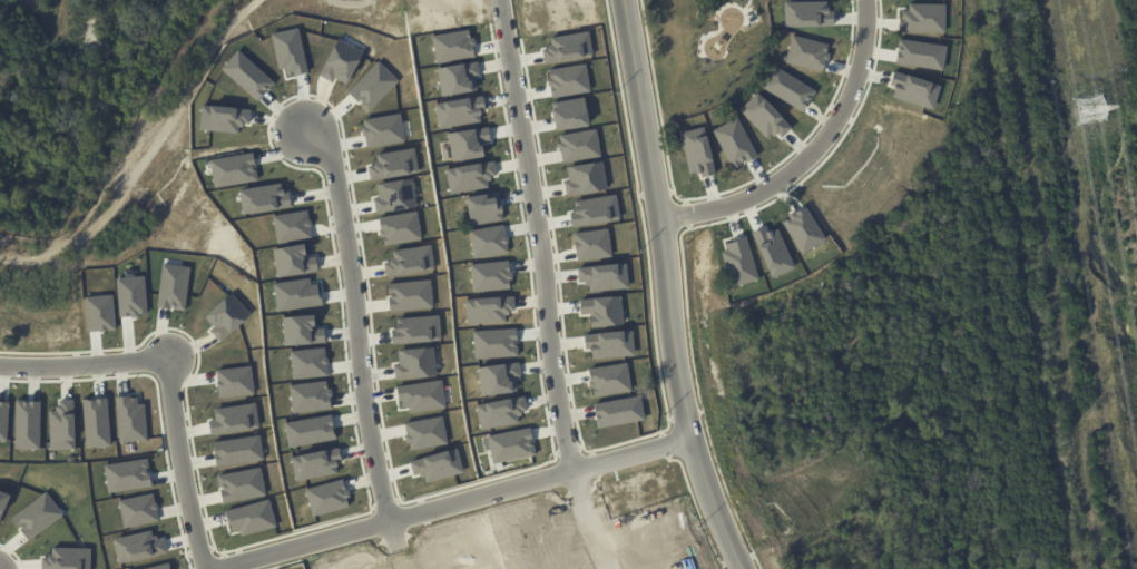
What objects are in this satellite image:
road: (344, 7)
building: (808, 14)
building: (924, 17)
building: (454, 46)
building: (568, 47)
building: (291, 51)
building: (808, 52)
building: (923, 53)
building: (342, 61)
building: (249, 75)
building: (459, 78)
building: (569, 80)
building: (373, 86)
building: (790, 88)
building: (915, 89)
power tower: (1088, 108)
building: (460, 111)
building: (571, 114)
building: (225, 118)
building: (767, 118)
building: (382, 130)
building: (469, 143)
building: (736, 143)
building: (580, 146)
road: (817, 149)
building: (698, 150)
road: (148, 155)
building: (393, 165)
building: (234, 169)
building: (470, 177)
building: (586, 178)
building: (394, 196)
building: (264, 198)
building: (487, 208)
building: (596, 209)
building: (292, 226)
building: (399, 228)
building: (805, 230)
road: (538, 235)
building: (489, 241)
building: (592, 244)
building: (776, 251)
building: (293, 259)
building: (410, 261)
building: (741, 262)
road: (1, 273)
building: (491, 276)
building: (605, 277)
building: (174, 287)
road: (676, 287)
building: (297, 294)
building: (410, 295)
building: (133, 296)
building: (490, 310)
building: (605, 310)
building: (100, 313)
road: (362, 314)
building: (226, 316)
building: (416, 328)
building: (303, 330)
building: (496, 343)
building: (611, 344)
road: (88, 357)
building: (310, 362)
building: (415, 363)
building: (499, 377)
building: (610, 380)
building: (235, 382)
building: (422, 395)
building: (311, 396)
building: (619, 411)
building: (502, 412)
building: (130, 419)
building: (234, 419)
building: (4, 420)
building: (96, 422)
building: (28, 424)
building: (62, 425)
building: (311, 431)
building: (427, 433)
building: (512, 444)
building: (238, 450)
road: (190, 462)
building: (316, 463)
building: (439, 465)
building: (128, 475)
building: (242, 484)
building: (329, 497)
road: (452, 500)
building: (3, 502)
building: (139, 510)
building: (38, 516)
building: (251, 517)
building: (138, 546)
building: (67, 558)
building: (160, 566)
road: (1, 568)

